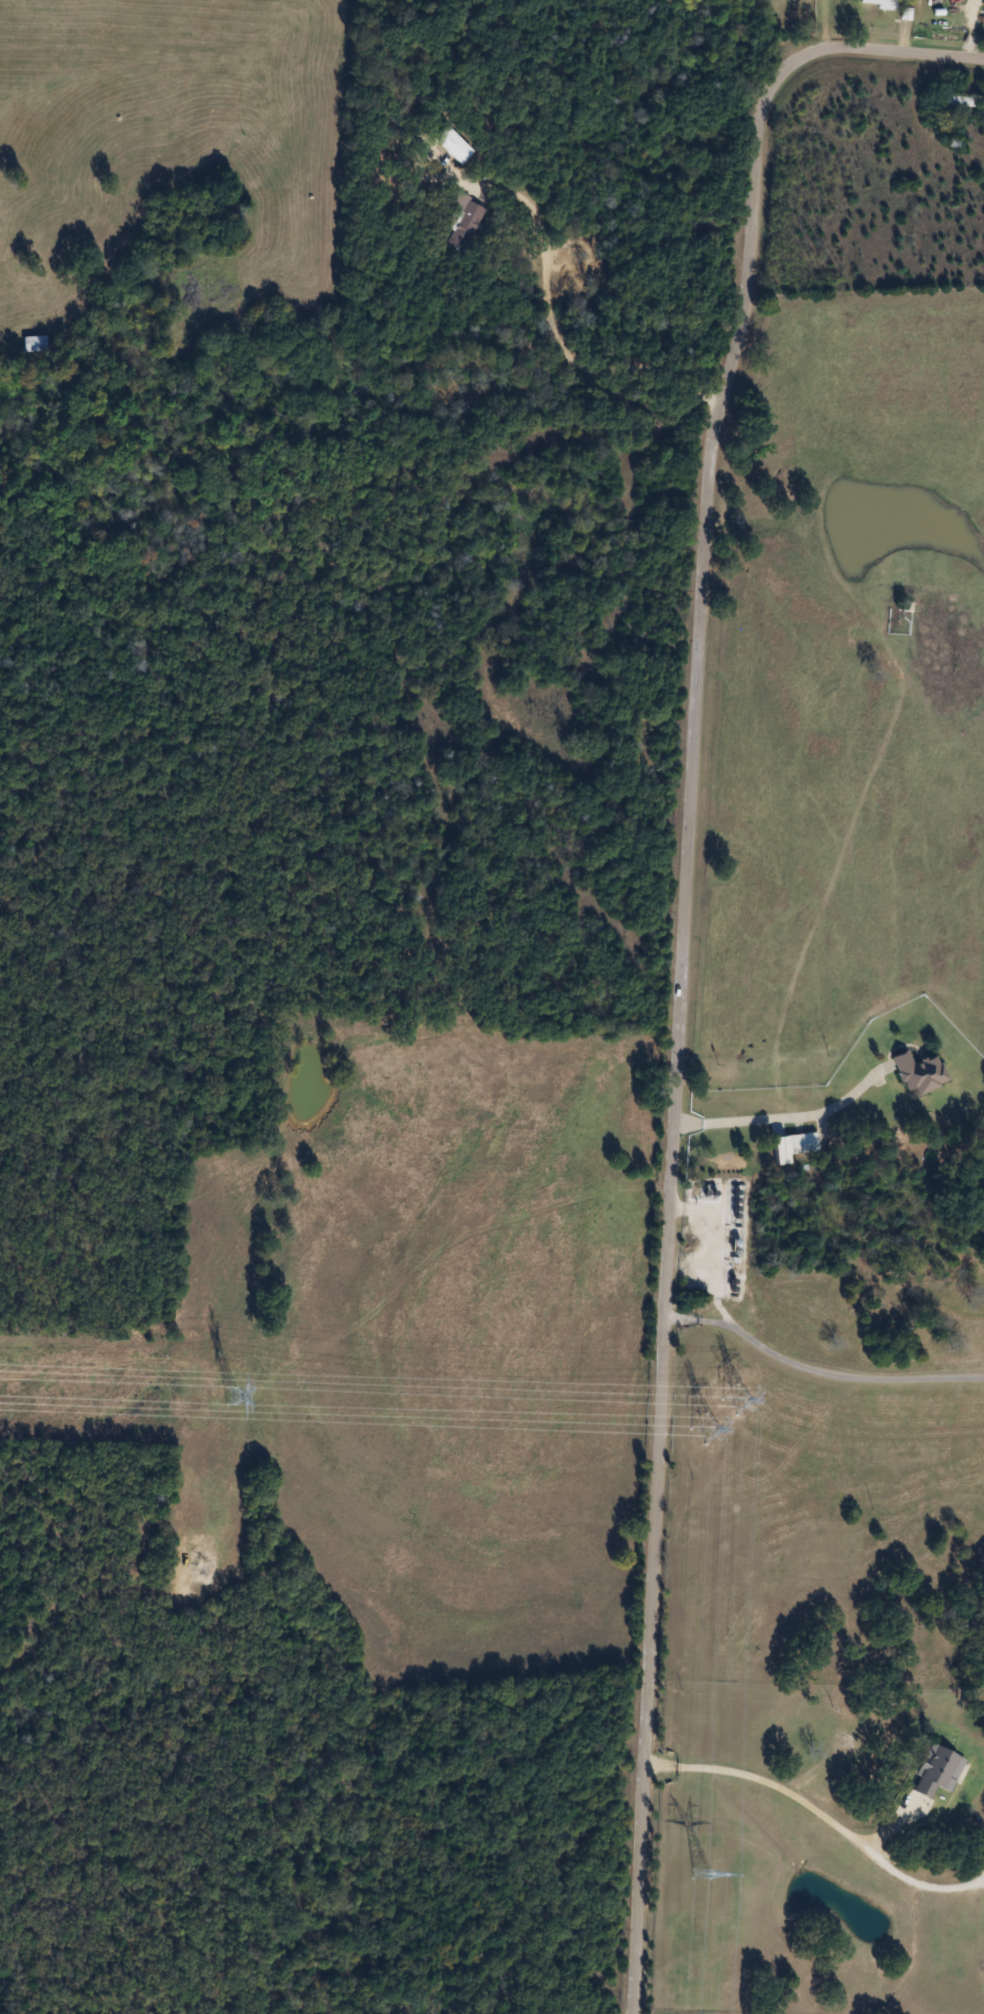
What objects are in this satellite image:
building: (881, 4)
building: (957, 101)
building: (454, 144)
building: (467, 220)
road: (559, 331)
building: (35, 344)
park: (742, 413)
road: (681, 932)
building: (920, 1073)
road: (781, 1119)
building: (801, 1143)
road: (817, 1374)
power tower: (230, 1395)
power tower: (720, 1414)
road: (778, 1788)
power tower: (703, 1875)

